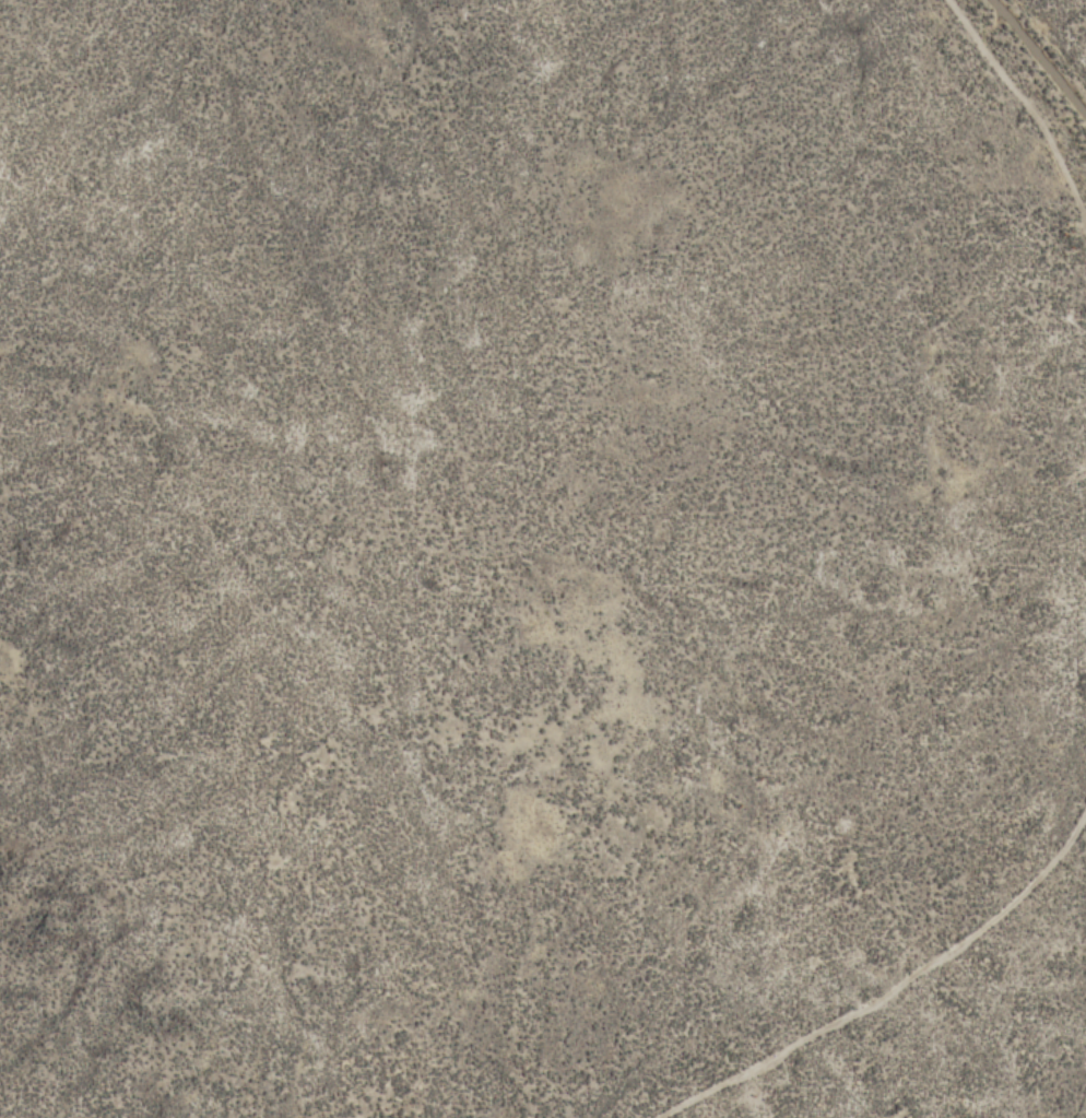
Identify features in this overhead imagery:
road: (1029, 103)
road: (892, 993)

